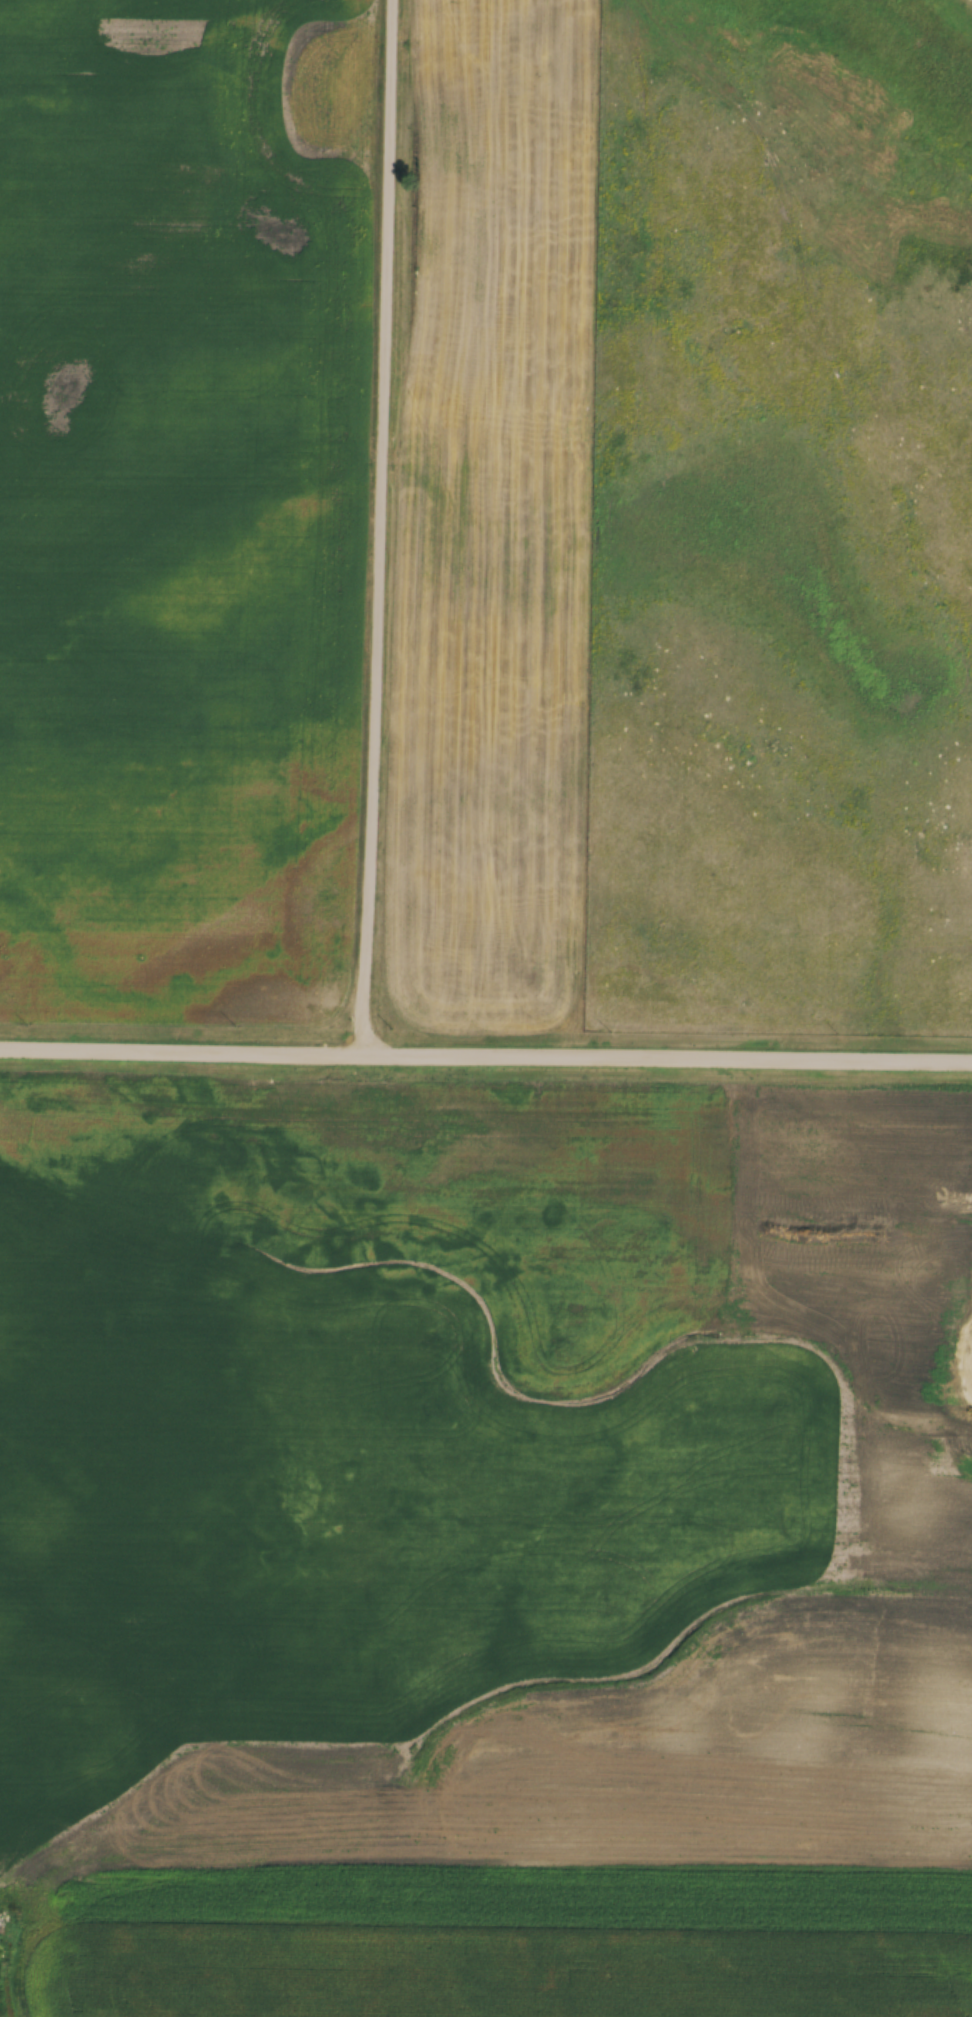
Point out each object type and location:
road: (381, 527)
road: (485, 1056)

